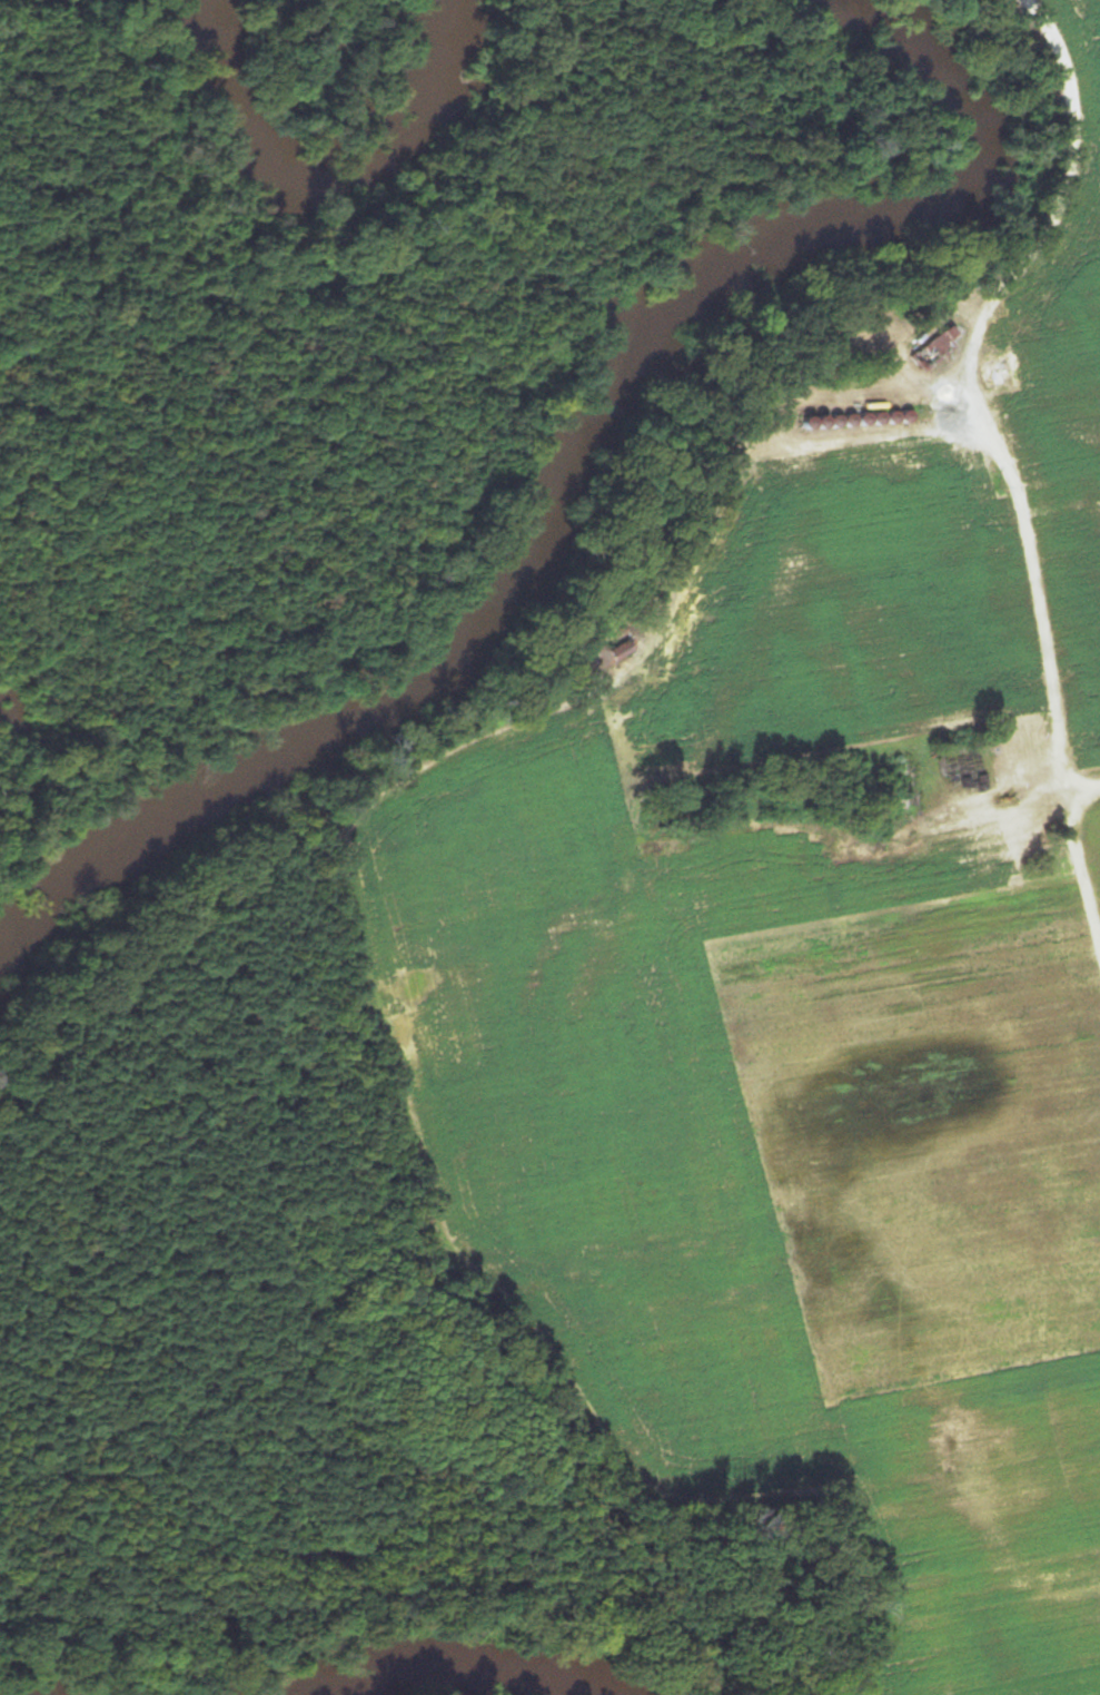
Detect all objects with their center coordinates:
road: (1086, 49)
river: (296, 135)
building: (933, 347)
river: (544, 484)
road: (1021, 532)
road: (1082, 787)
river: (460, 1655)
river: (1, 1694)

